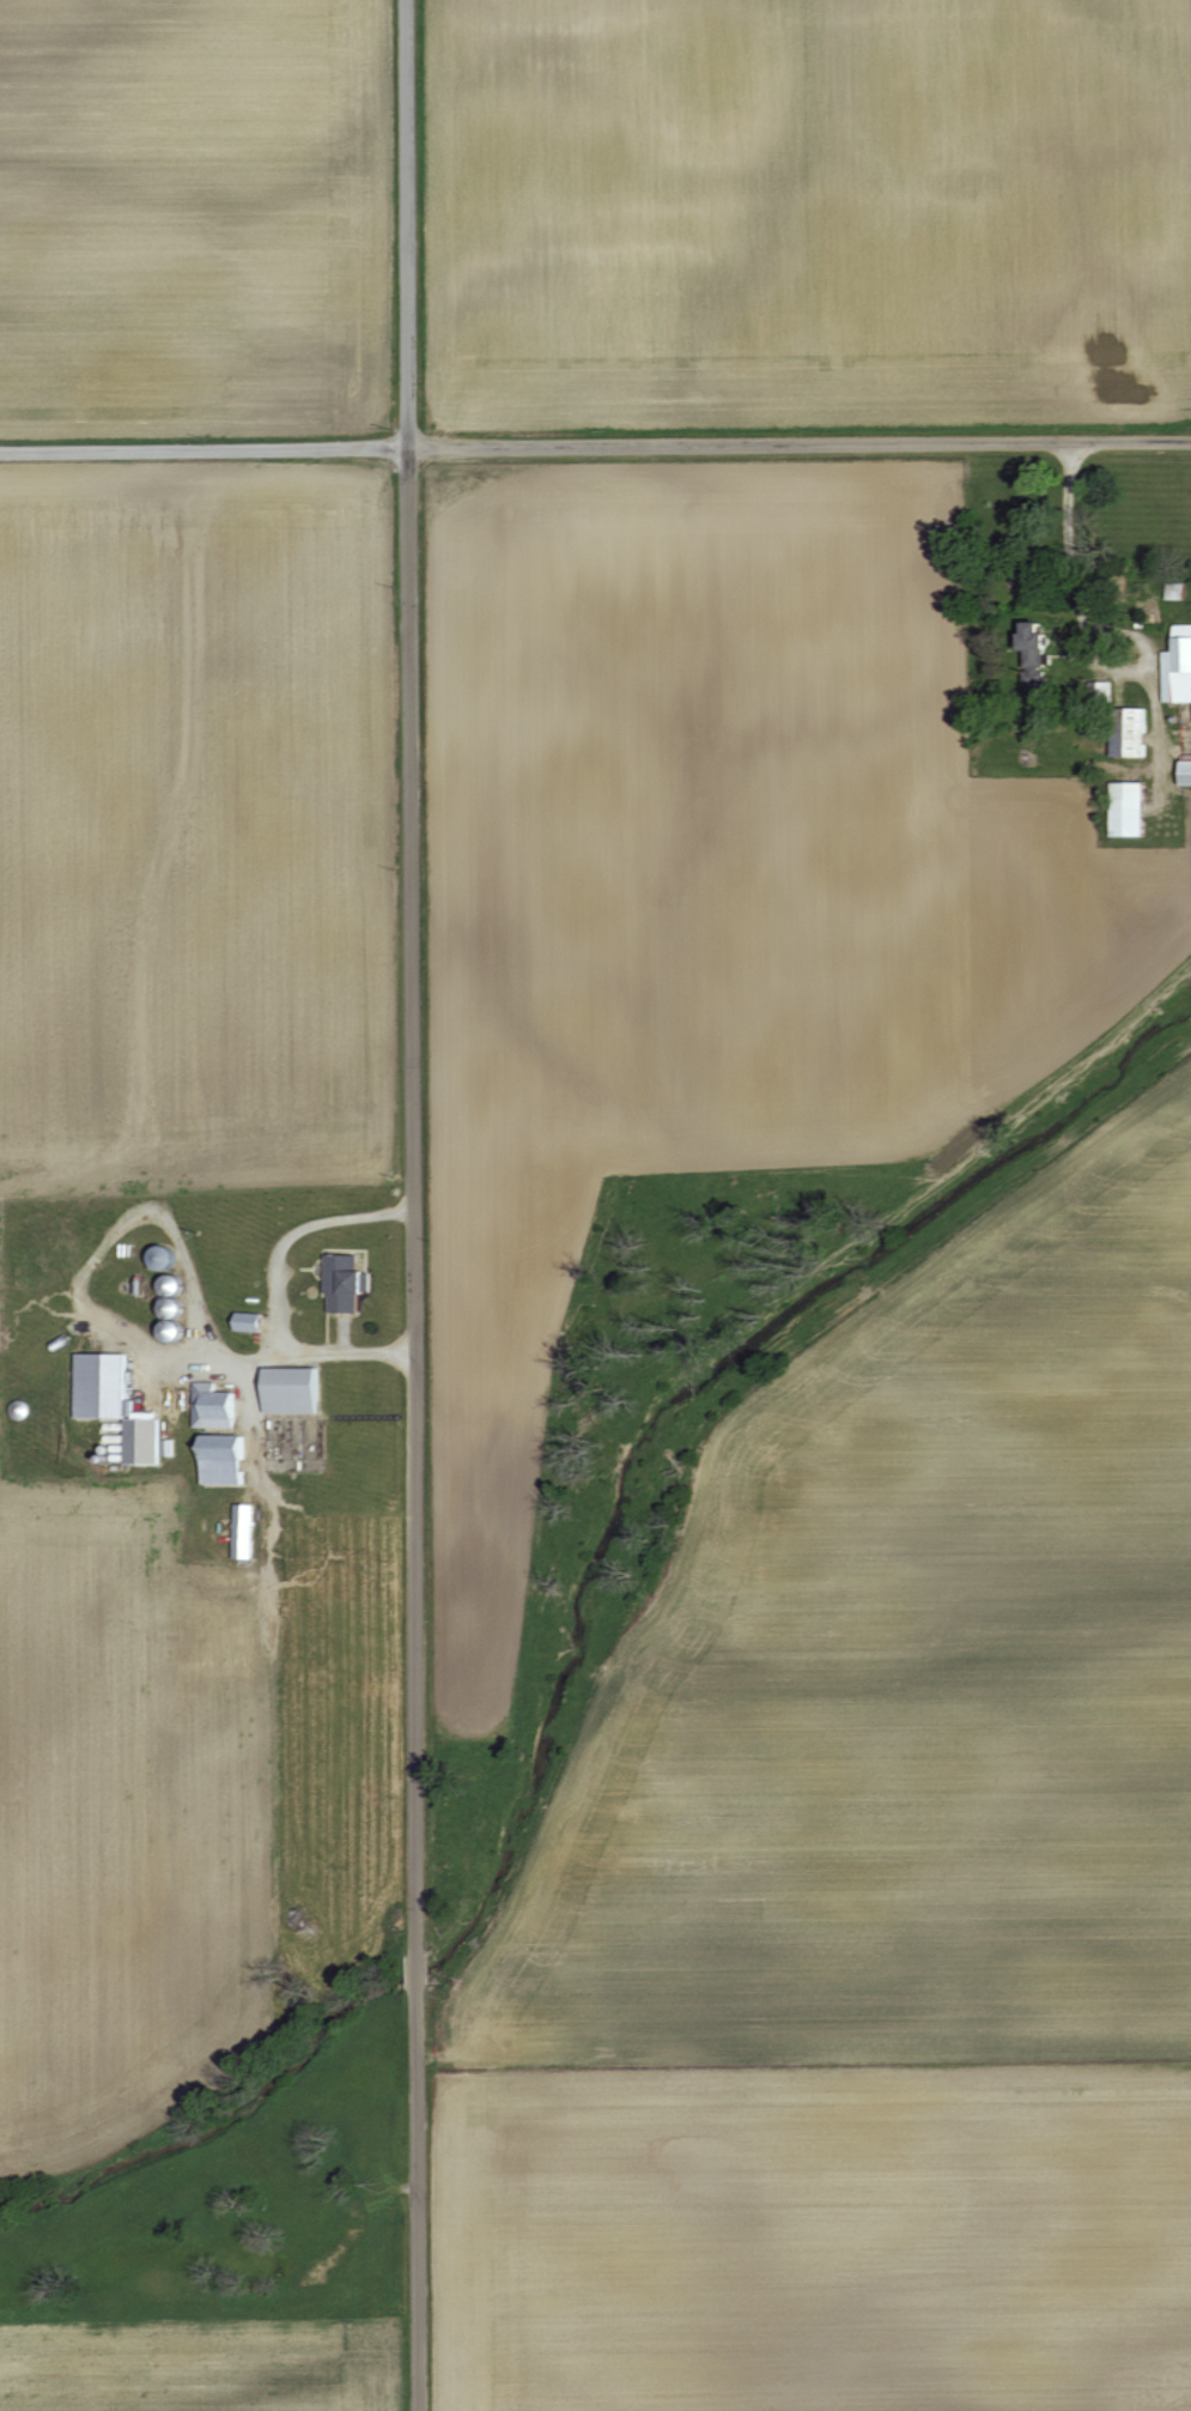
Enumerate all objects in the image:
road: (797, 441)
road: (202, 447)
building: (1179, 590)
building: (1043, 643)
building: (1180, 668)
building: (1135, 735)
building: (1190, 771)
building: (1134, 808)
road: (403, 1205)
building: (350, 1283)
building: (298, 1391)
building: (121, 1405)
building: (224, 1436)
building: (249, 1531)

